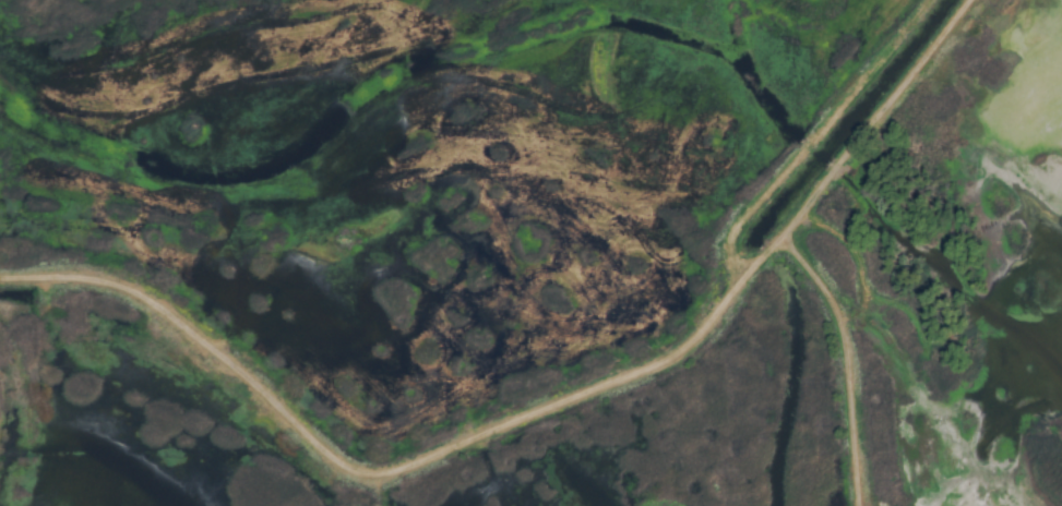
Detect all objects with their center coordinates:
road: (850, 145)
road: (843, 365)
road: (359, 472)

